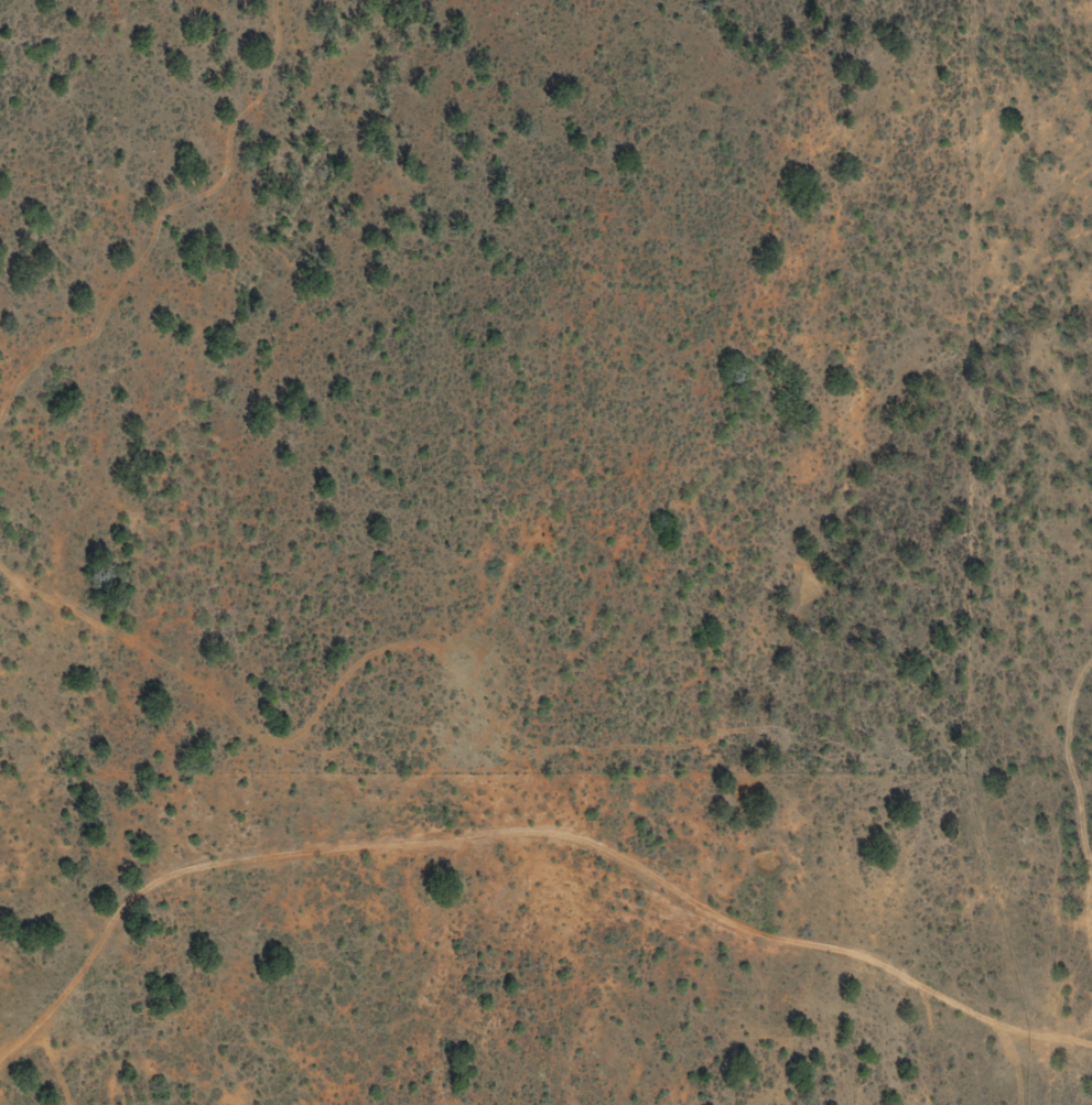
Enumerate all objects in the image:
road: (540, 855)

